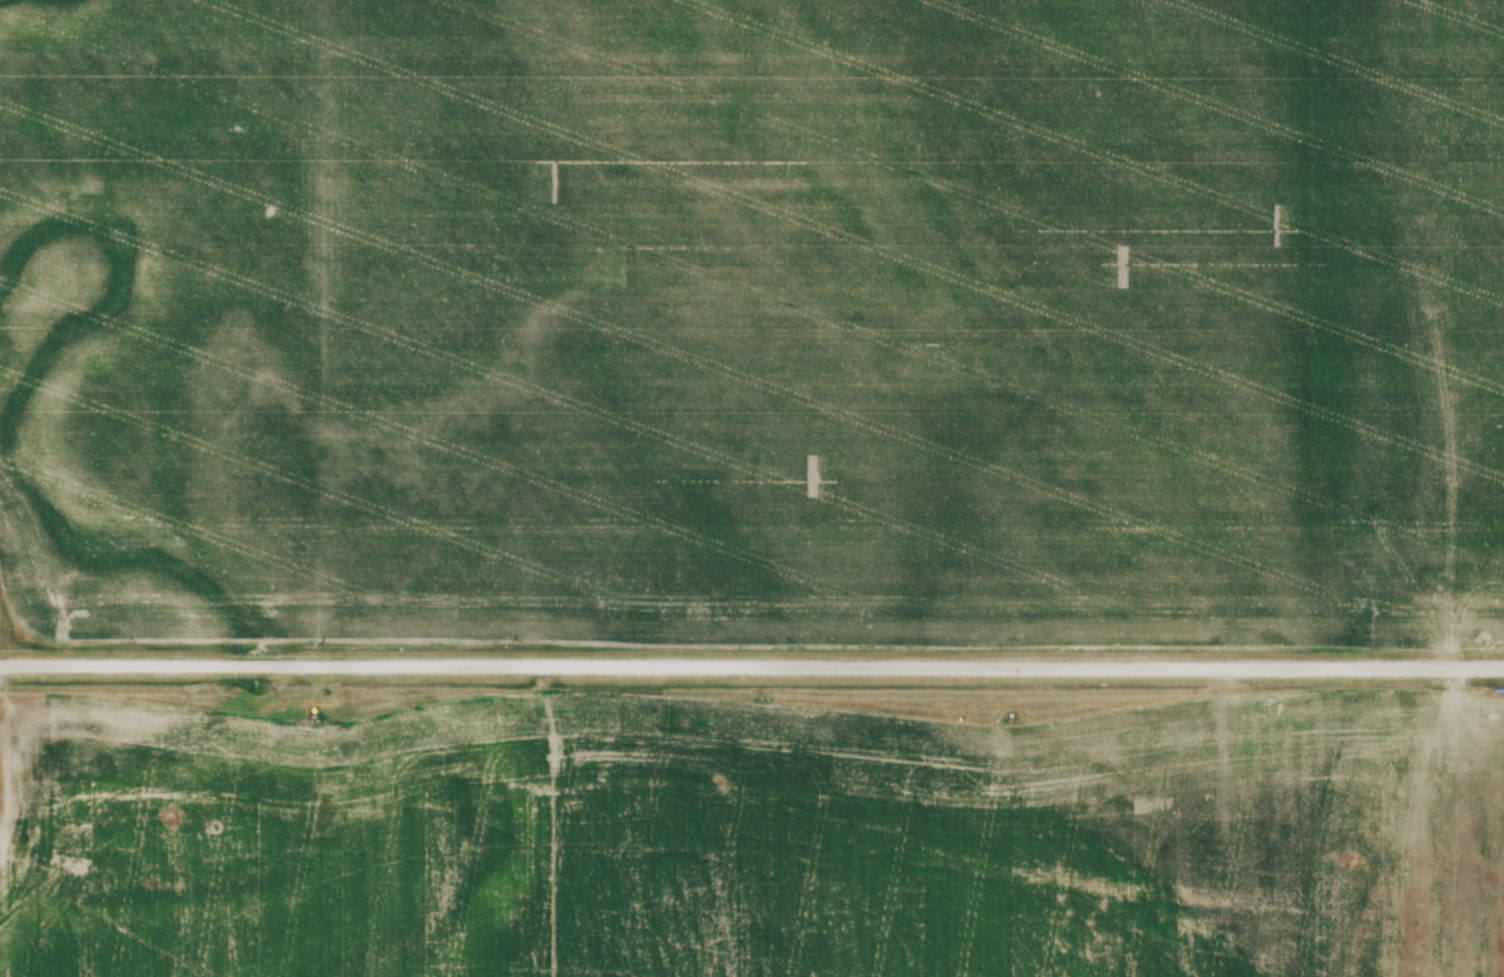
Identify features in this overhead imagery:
road: (751, 673)

